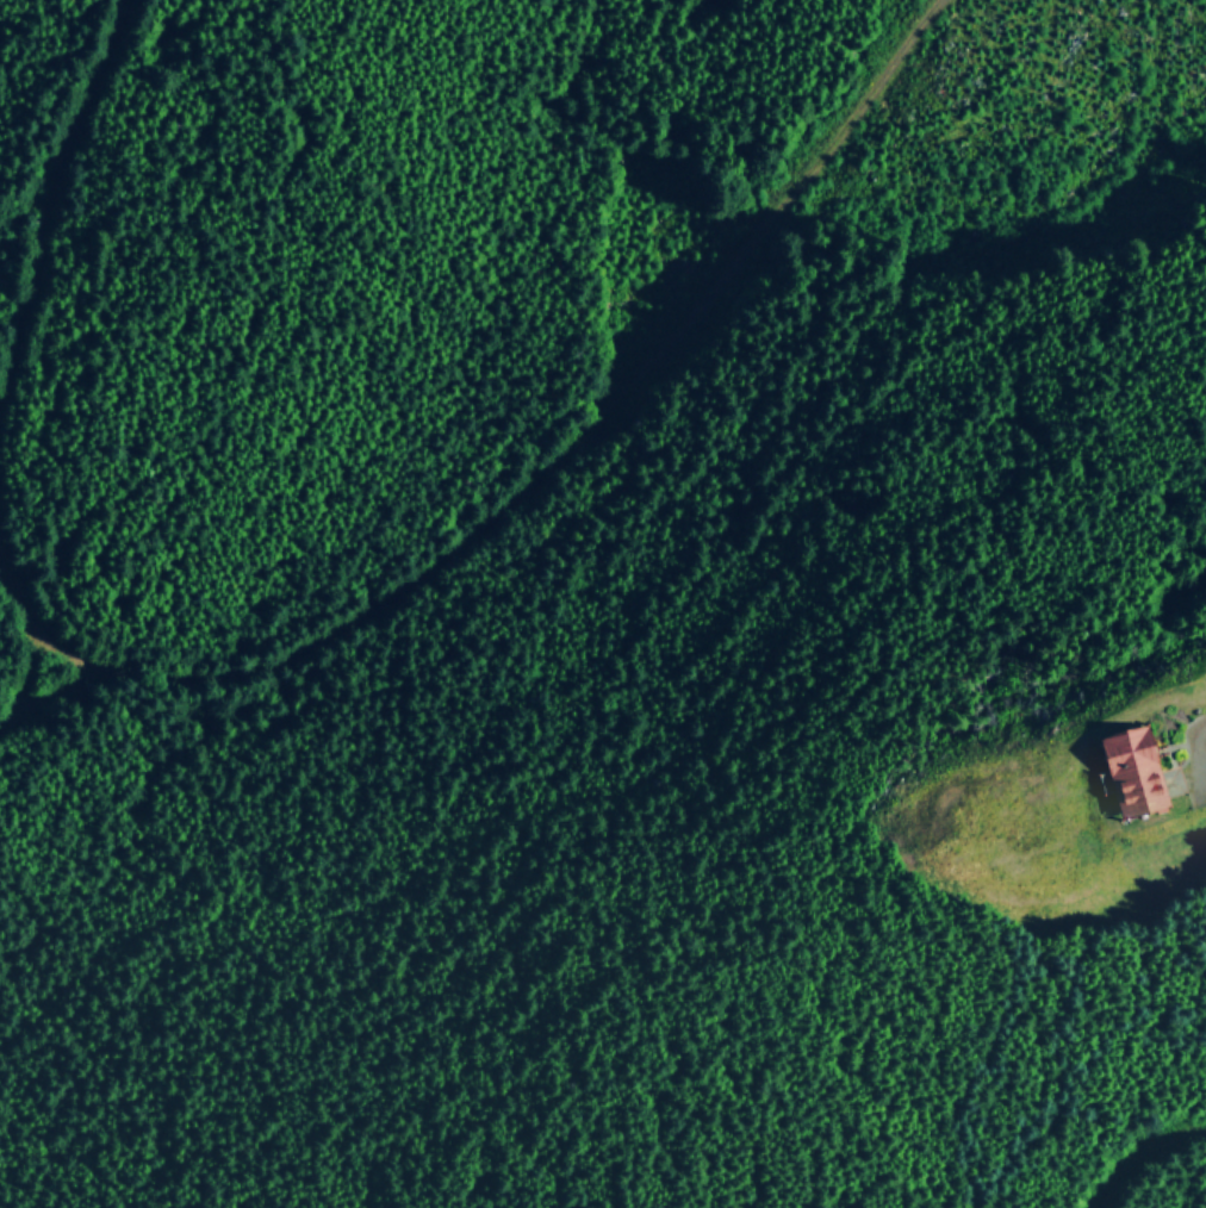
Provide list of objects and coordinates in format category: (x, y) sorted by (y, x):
road: (45, 206)
road: (523, 487)
road: (32, 680)
road: (51, 698)
road: (1192, 735)
building: (1127, 758)
road: (1151, 1159)

